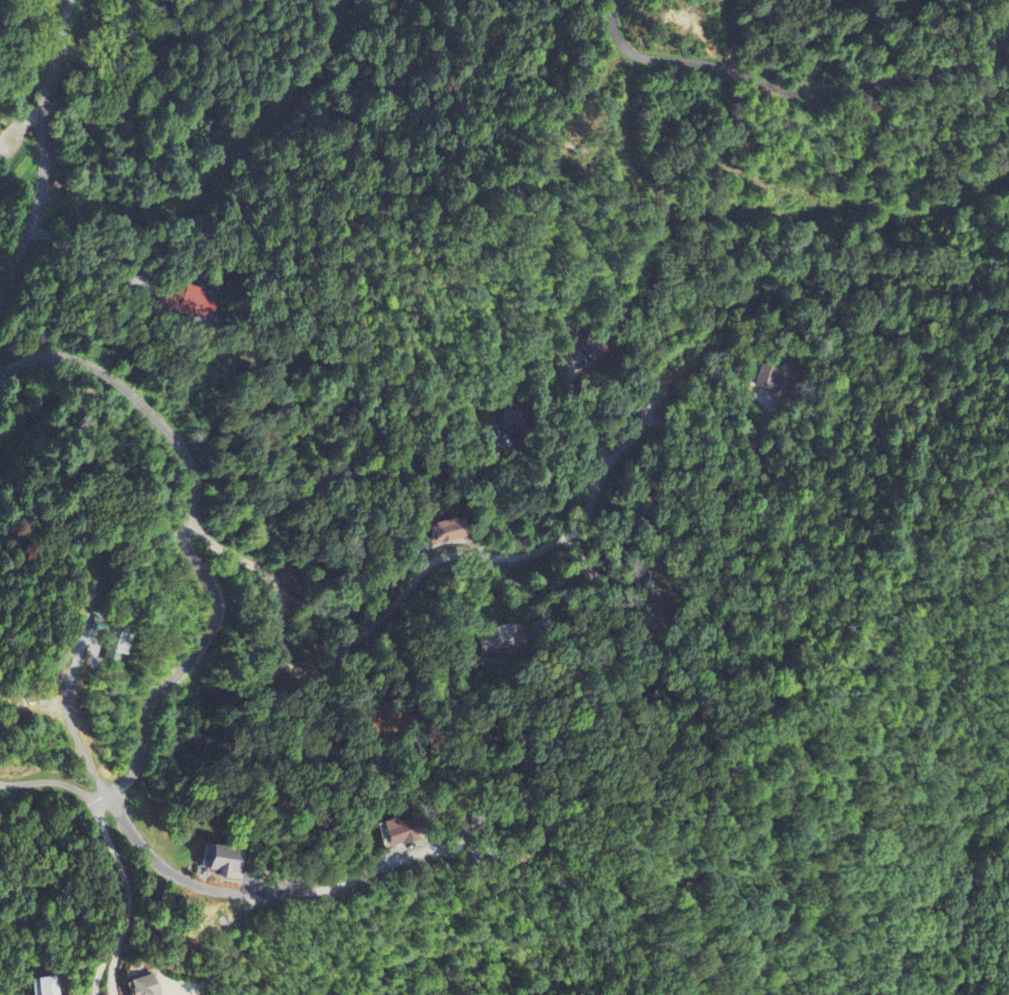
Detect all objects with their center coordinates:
road: (50, 95)
building: (444, 531)
building: (116, 642)
building: (398, 831)
building: (43, 986)
building: (144, 986)

